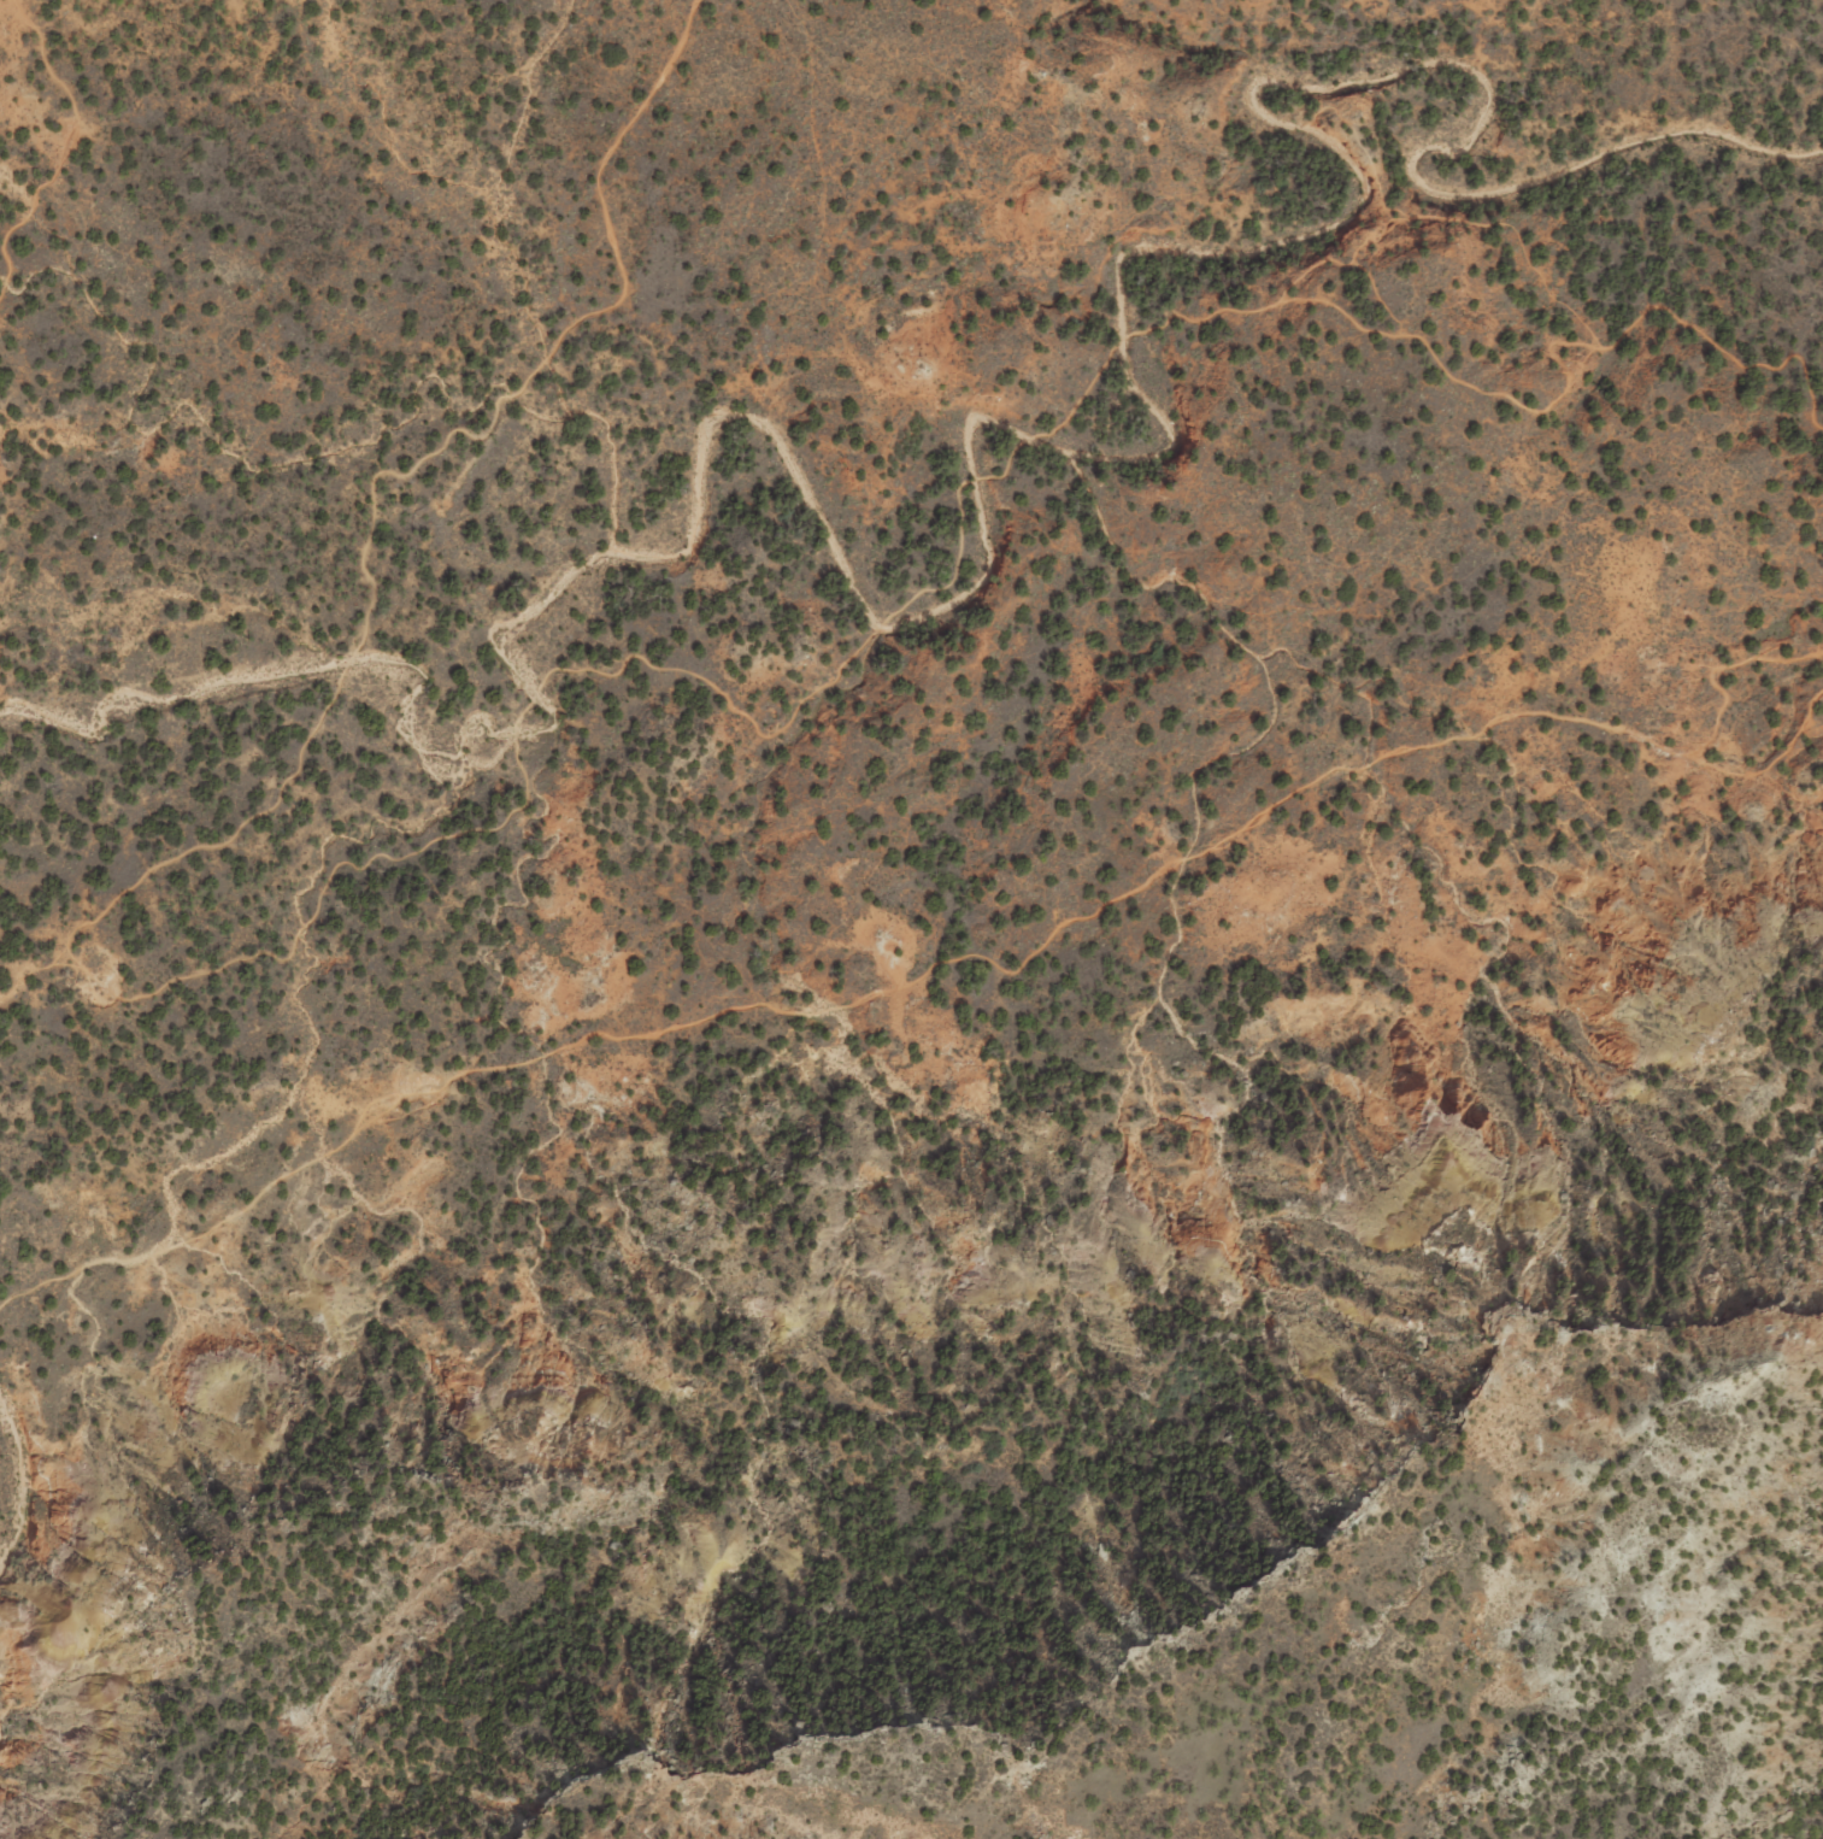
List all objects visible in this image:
road: (66, 147)
road: (536, 804)
road: (941, 962)
road: (33, 970)

